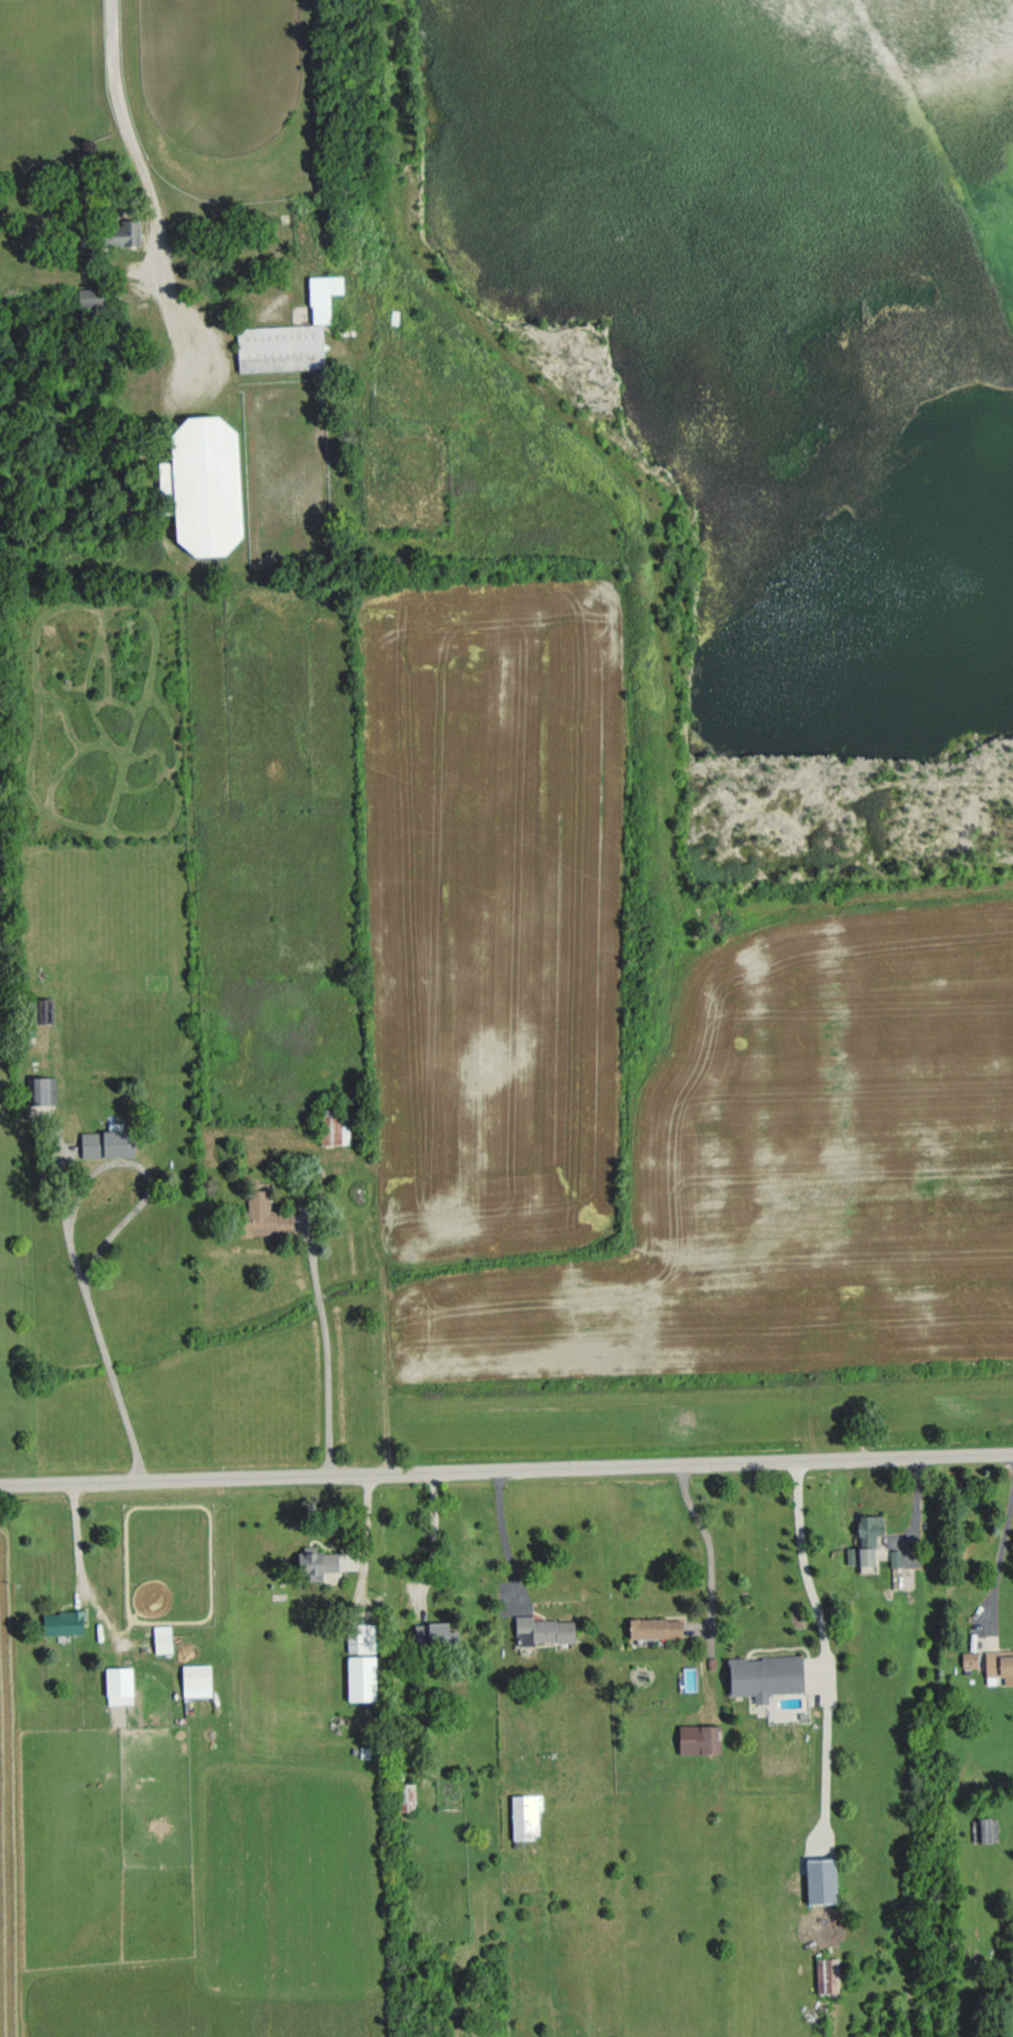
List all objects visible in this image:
road: (140, 151)
building: (121, 233)
building: (322, 296)
building: (89, 297)
building: (279, 347)
quarry: (770, 393)
building: (202, 485)
building: (43, 1090)
building: (333, 1130)
building: (106, 1143)
building: (263, 1217)
road: (70, 1229)
road: (325, 1348)
road: (506, 1466)
road: (432, 1533)
road: (500, 1534)
road: (363, 1536)
building: (867, 1540)
road: (707, 1550)
road: (999, 1556)
building: (894, 1558)
building: (315, 1562)
road: (803, 1565)
road: (78, 1569)
building: (62, 1622)
building: (654, 1627)
building: (542, 1630)
building: (433, 1633)
building: (360, 1637)
building: (161, 1639)
building: (968, 1659)
building: (999, 1664)
building: (764, 1676)
building: (360, 1678)
building: (195, 1680)
building: (117, 1685)
building: (698, 1739)
road: (824, 1760)
building: (405, 1797)
building: (524, 1815)
building: (987, 1830)
building: (819, 1880)
building: (826, 1975)

